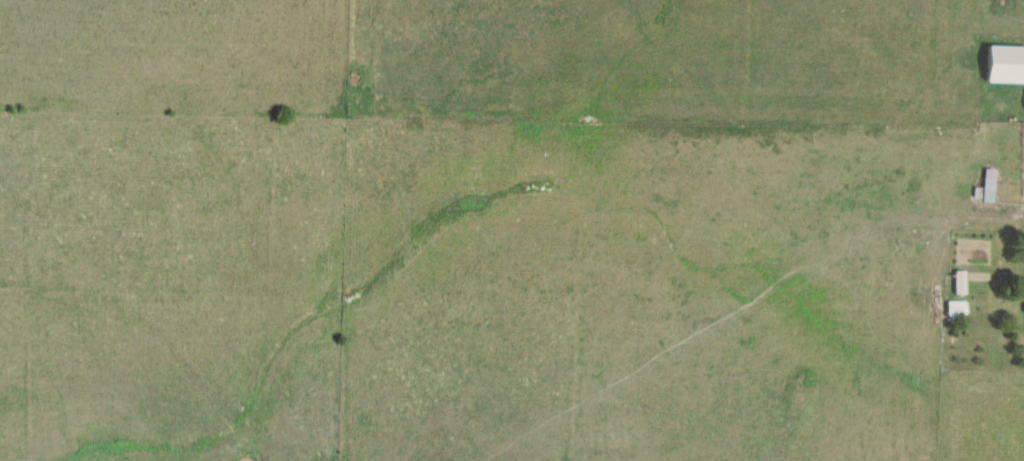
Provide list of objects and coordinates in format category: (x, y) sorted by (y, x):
building: (1002, 65)
building: (956, 283)
building: (1023, 310)

